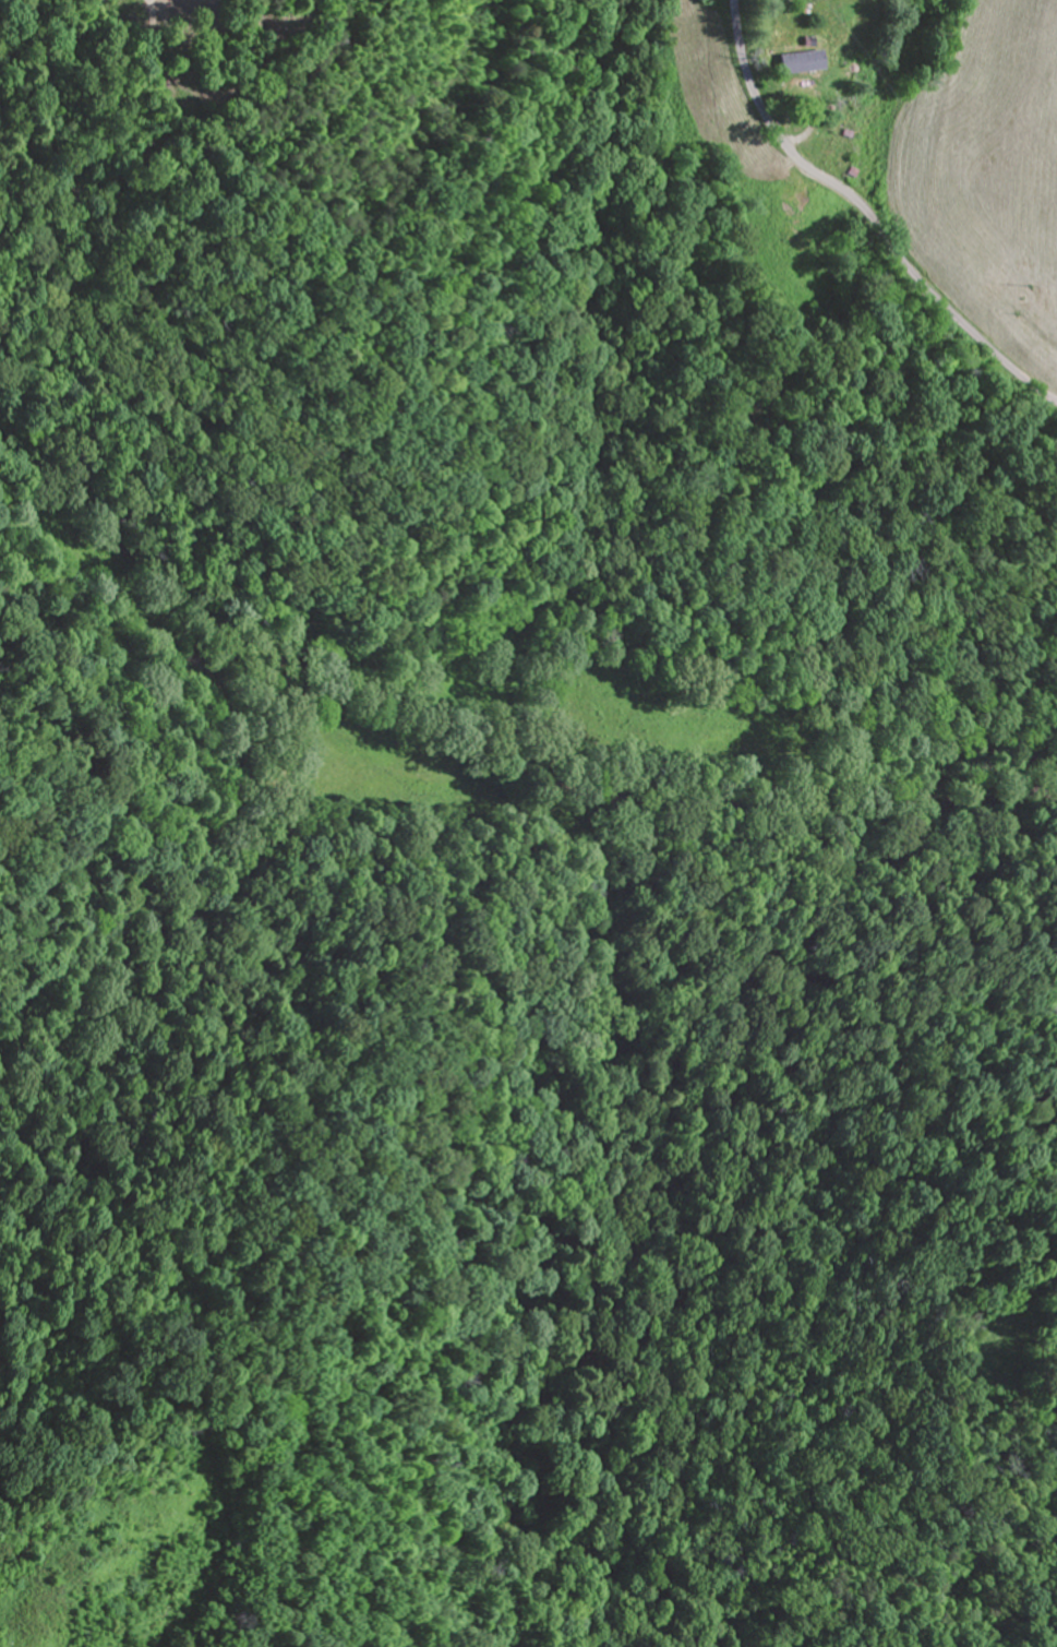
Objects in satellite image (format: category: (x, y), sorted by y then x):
building: (800, 62)
road: (870, 214)

